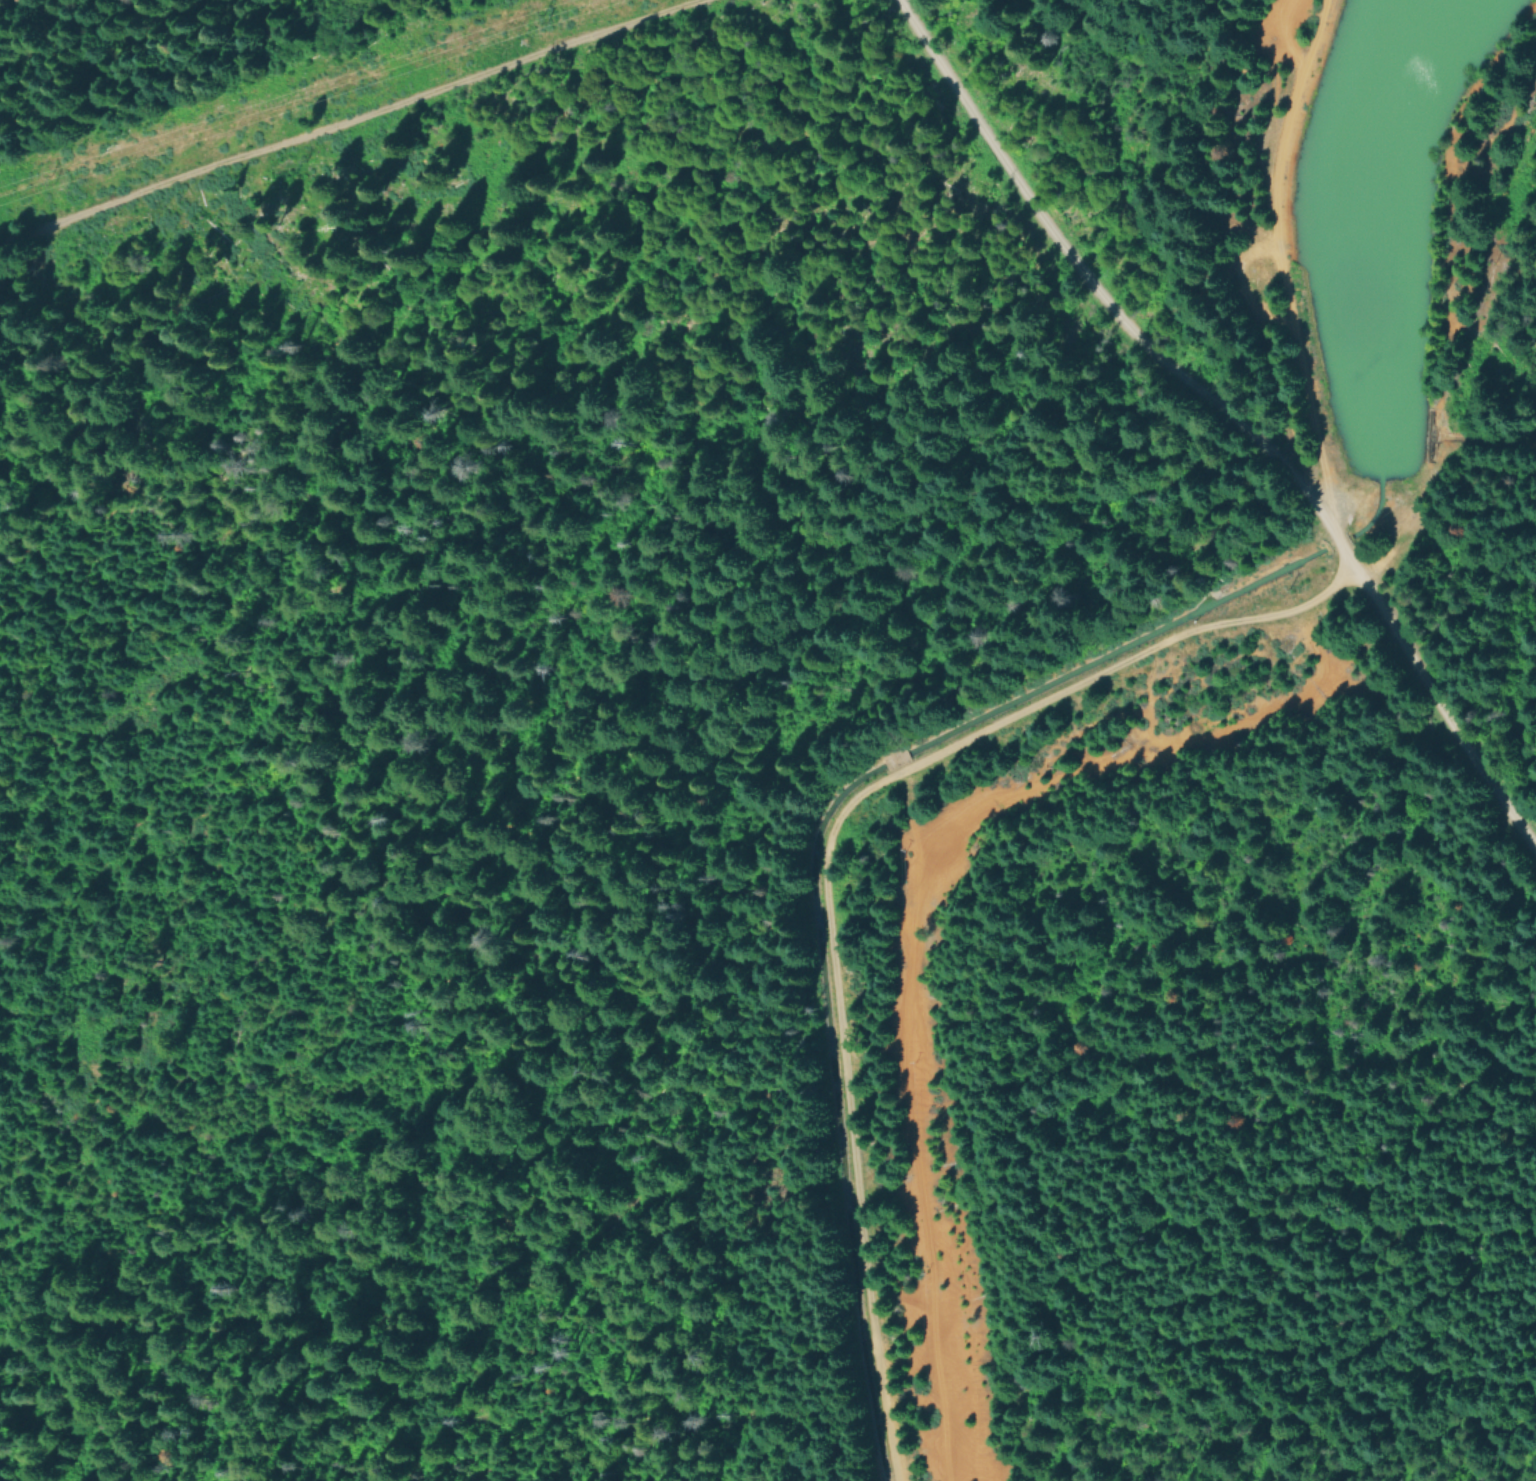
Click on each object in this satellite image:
road: (353, 117)
road: (1276, 268)
road: (1225, 414)
road: (827, 858)
road: (0, 1480)

